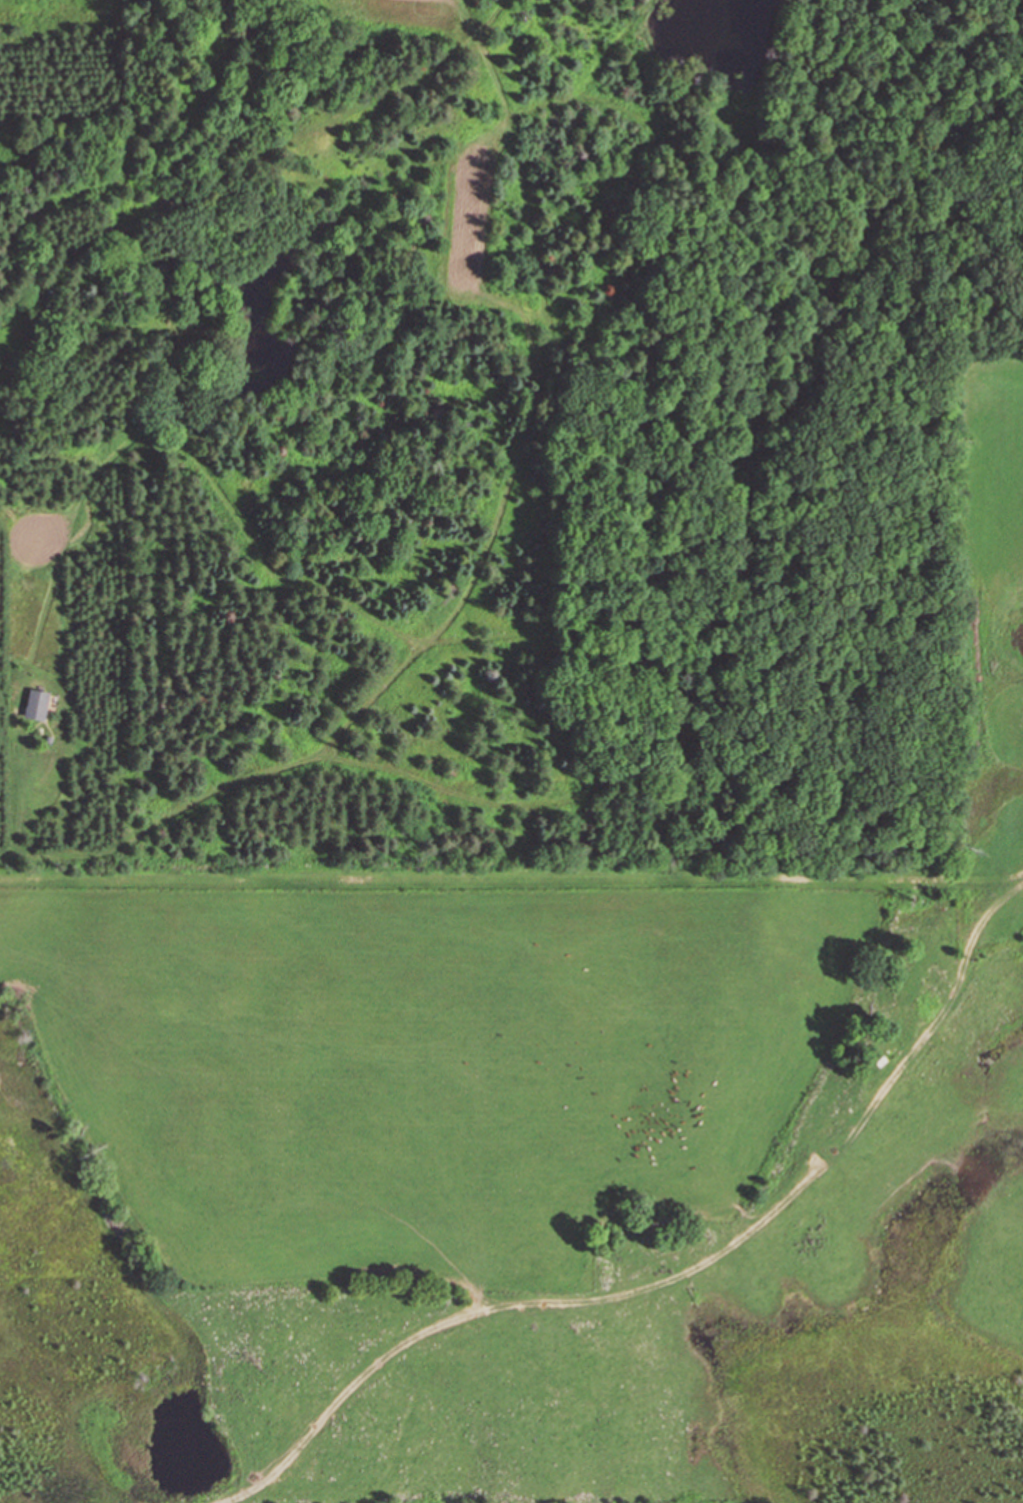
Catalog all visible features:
building: (35, 705)

